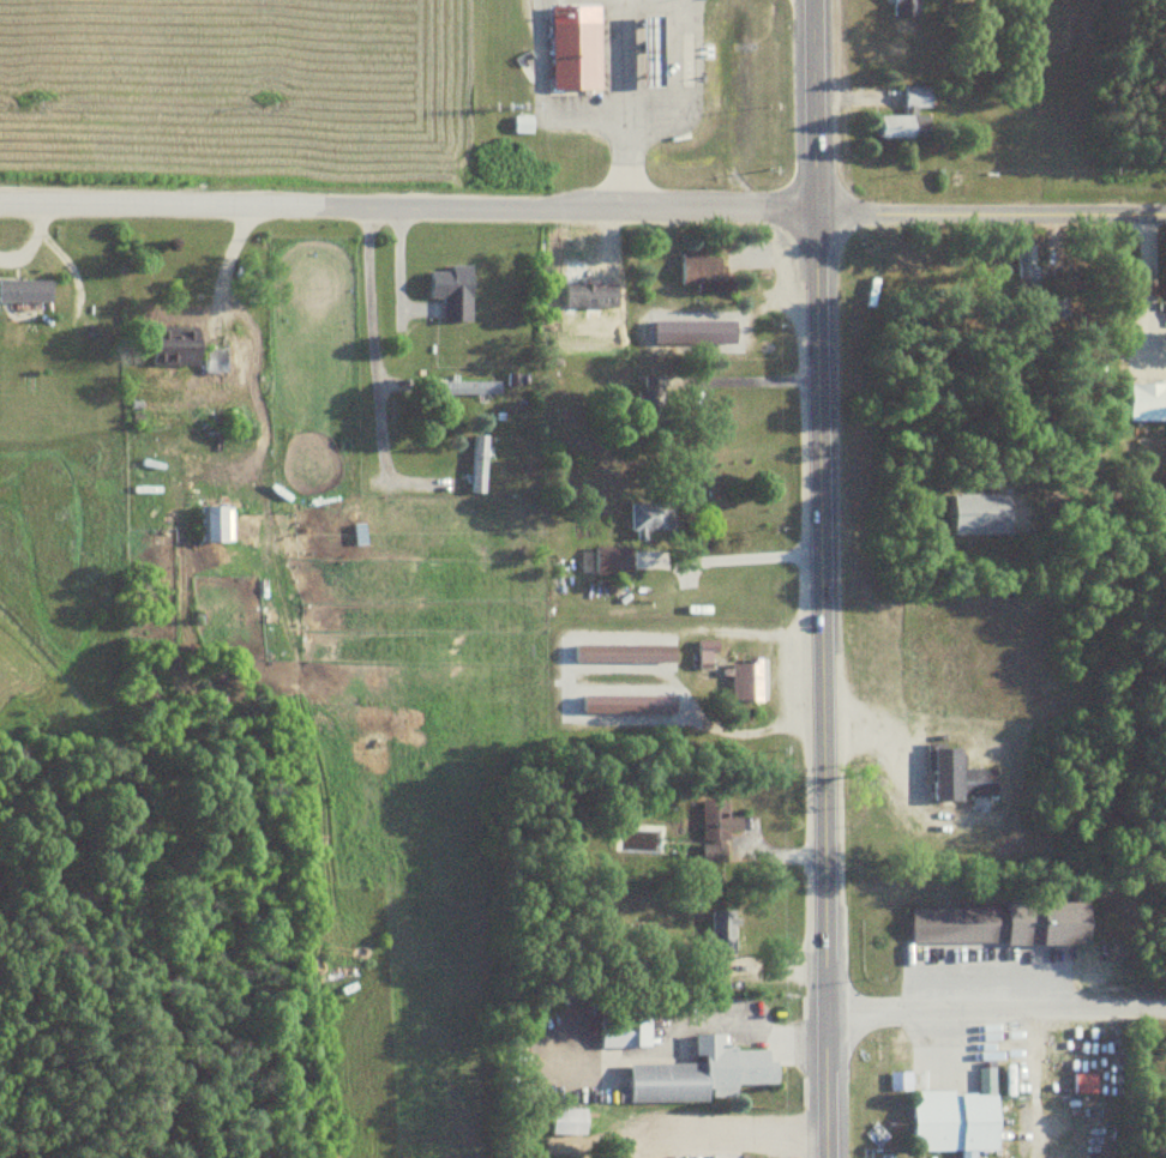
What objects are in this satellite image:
building: (907, 8)
building: (653, 49)
building: (575, 53)
building: (907, 117)
road: (582, 209)
building: (1022, 259)
building: (703, 272)
building: (24, 289)
building: (450, 290)
building: (695, 331)
road: (369, 344)
building: (175, 345)
building: (214, 360)
building: (649, 398)
building: (1146, 402)
building: (477, 462)
building: (651, 515)
building: (215, 523)
building: (611, 559)
road: (821, 578)
building: (623, 655)
building: (745, 677)
building: (626, 704)
building: (956, 774)
building: (717, 831)
building: (975, 923)
building: (721, 930)
road: (996, 973)
building: (625, 1032)
building: (699, 1073)
building: (569, 1121)
building: (955, 1121)

